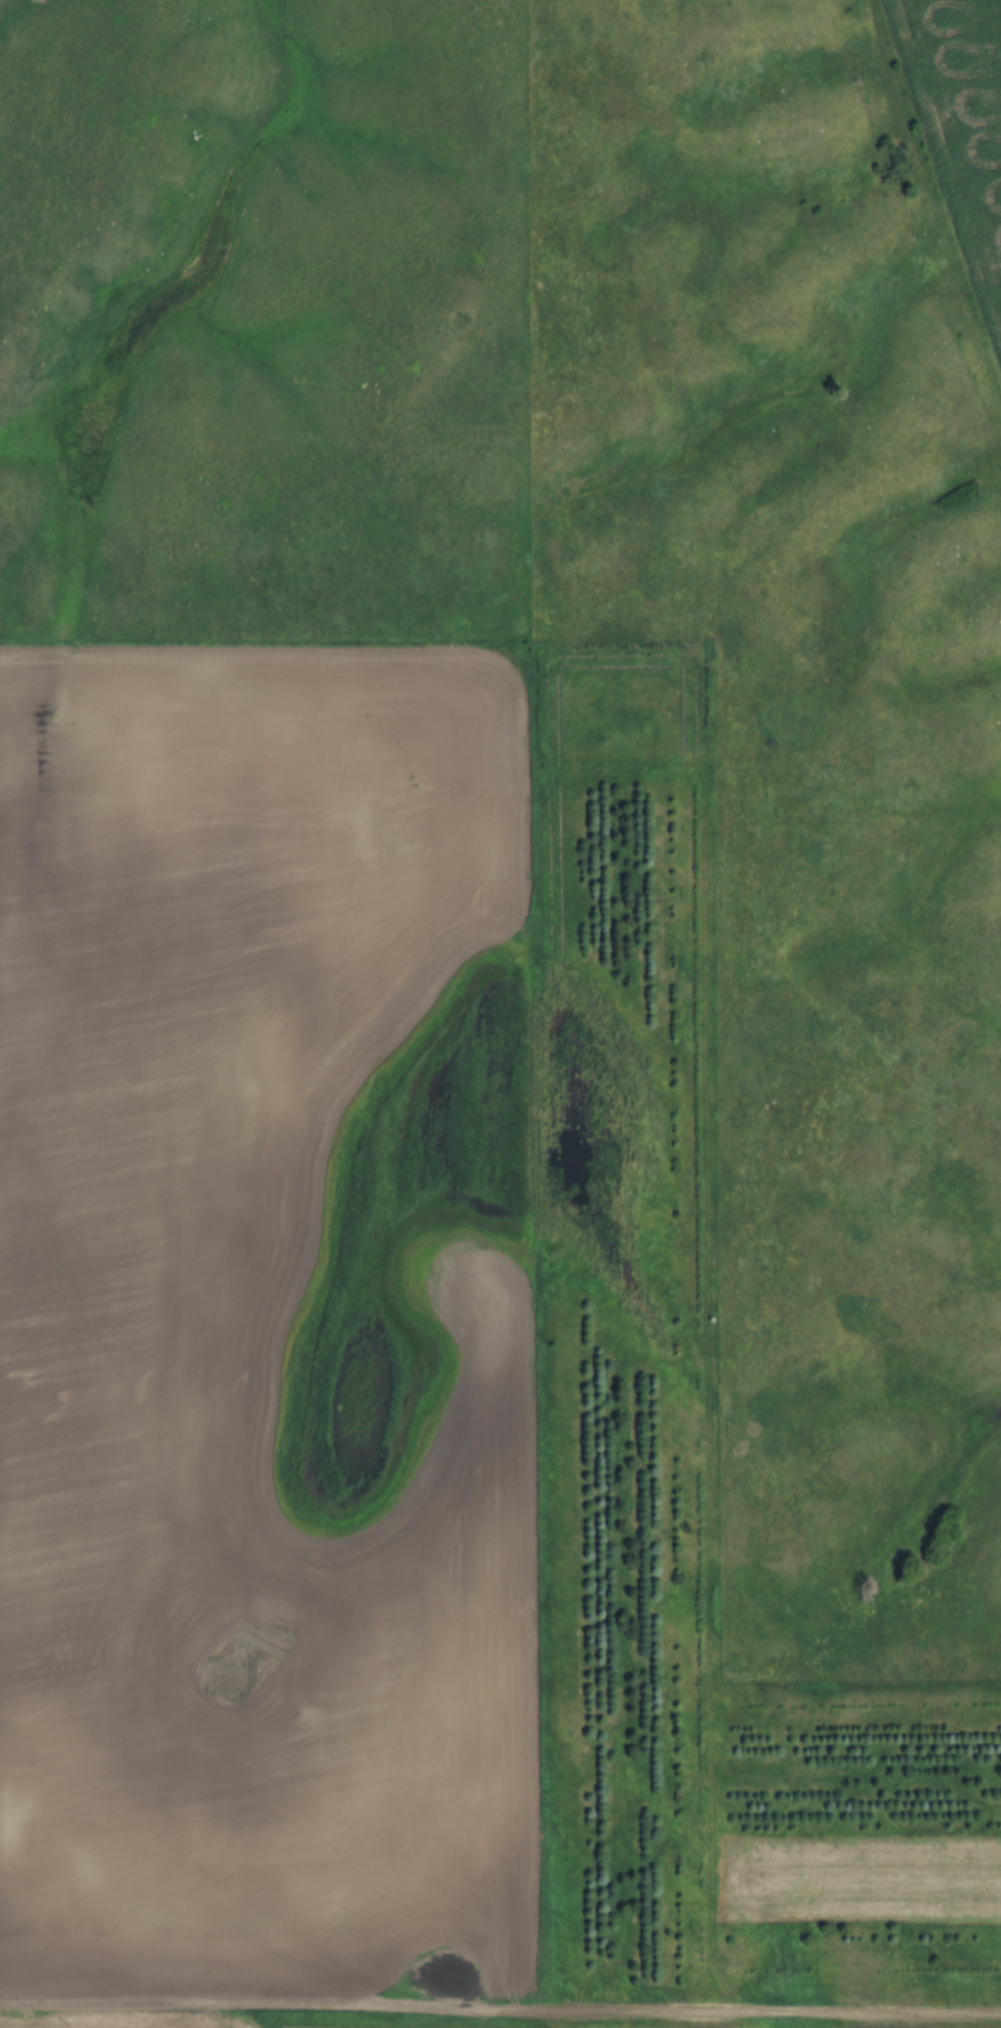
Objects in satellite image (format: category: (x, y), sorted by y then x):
road: (500, 2009)

